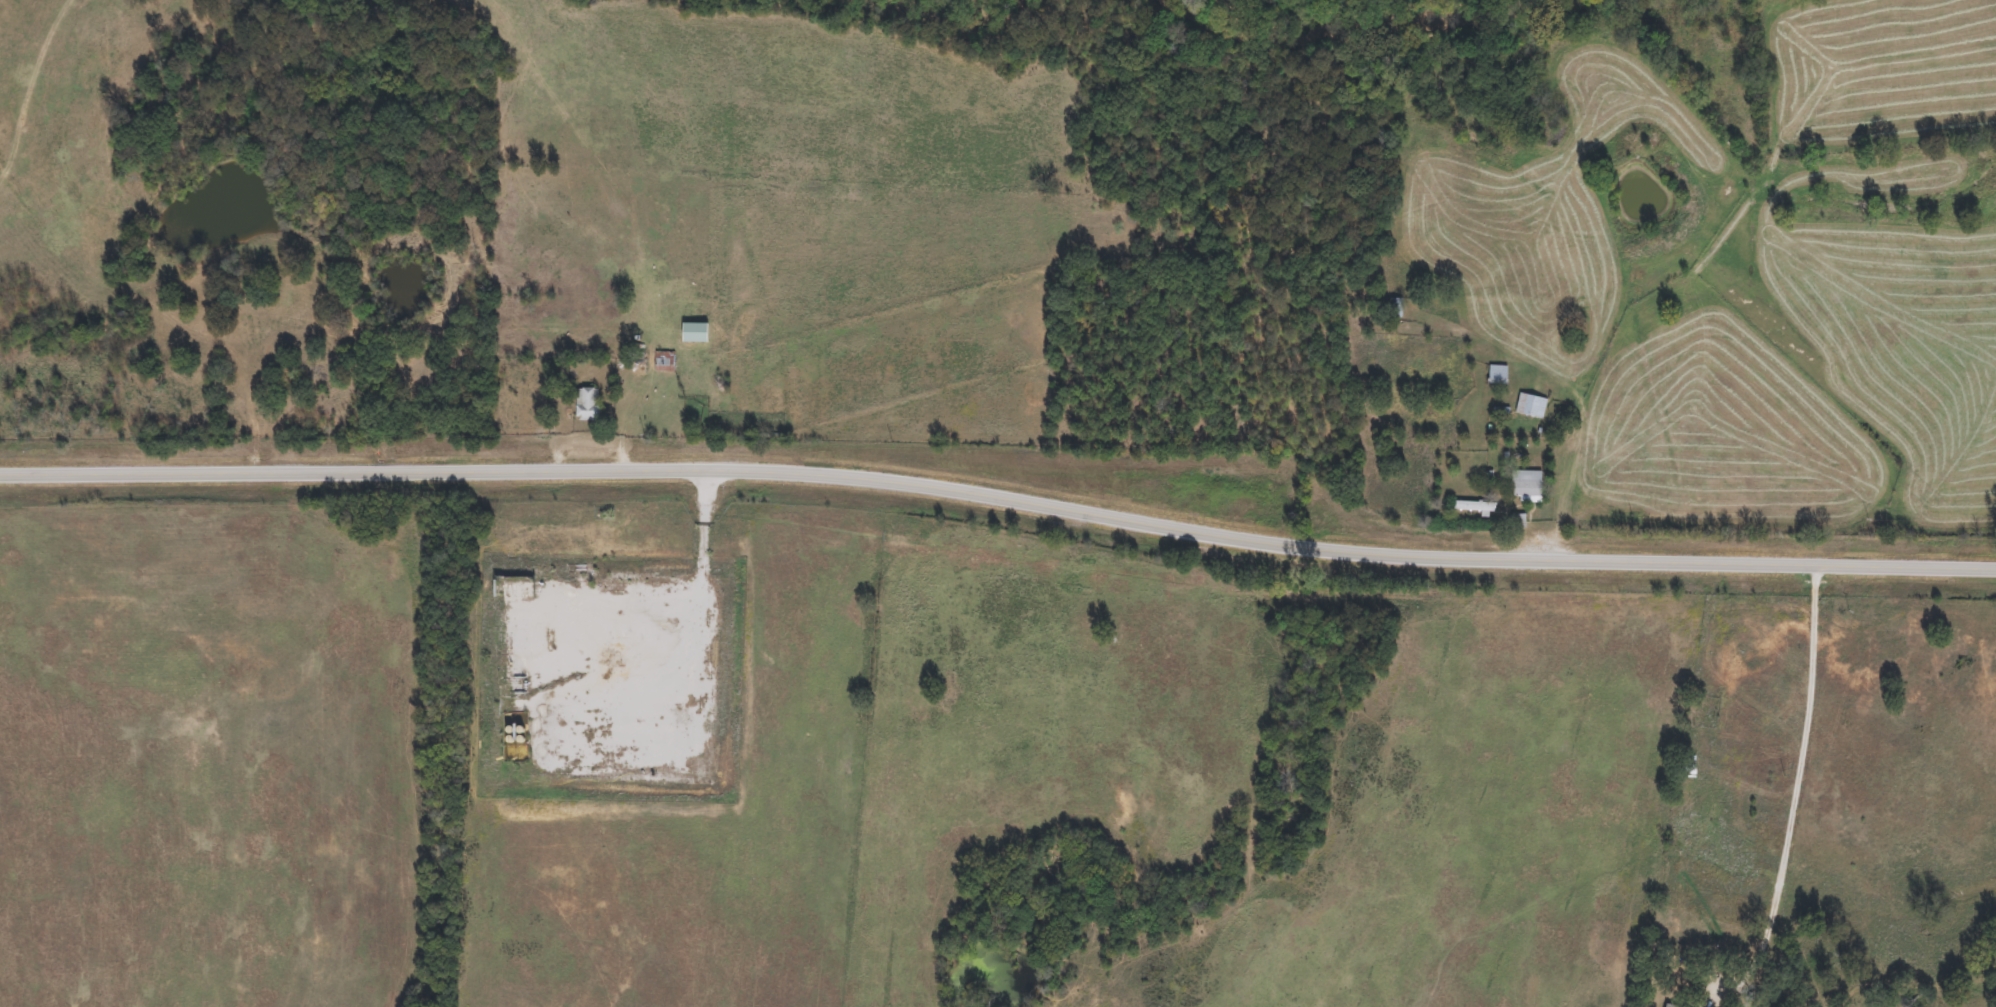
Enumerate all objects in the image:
building: (1393, 308)
building: (662, 361)
building: (1495, 374)
building: (584, 405)
building: (1528, 406)
building: (1523, 486)
road: (999, 497)
building: (1469, 507)

